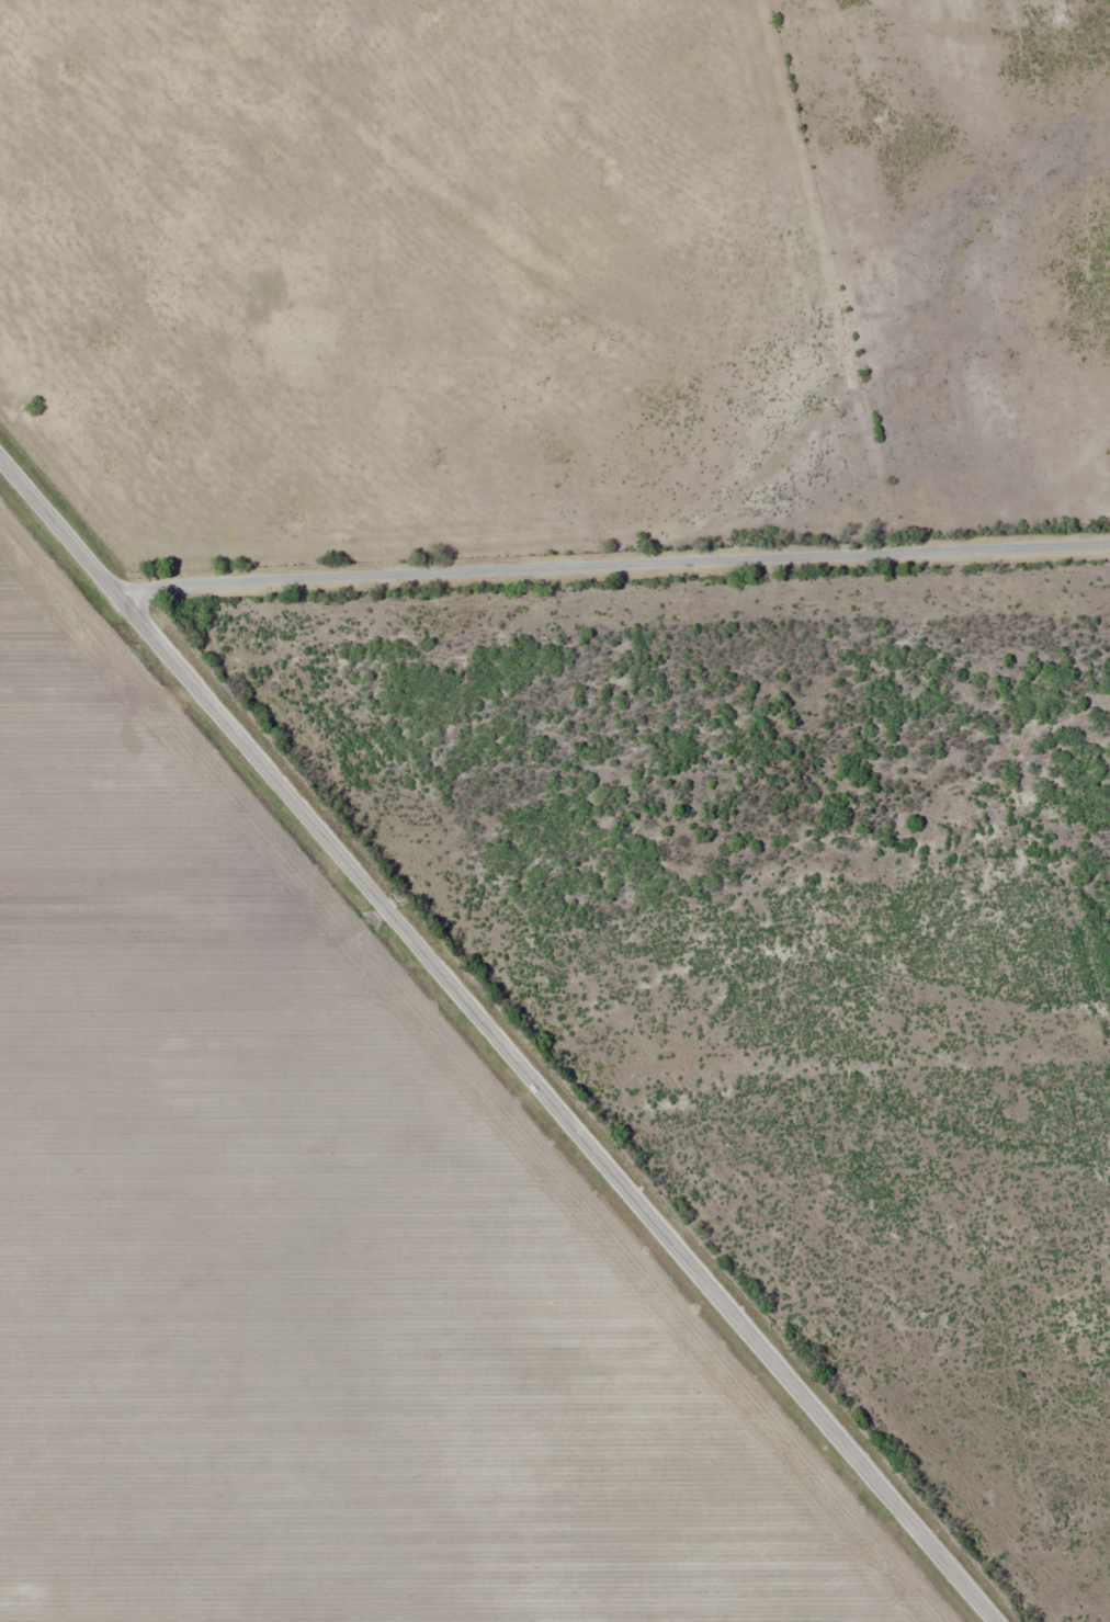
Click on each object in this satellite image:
road: (612, 566)
road: (497, 1040)

